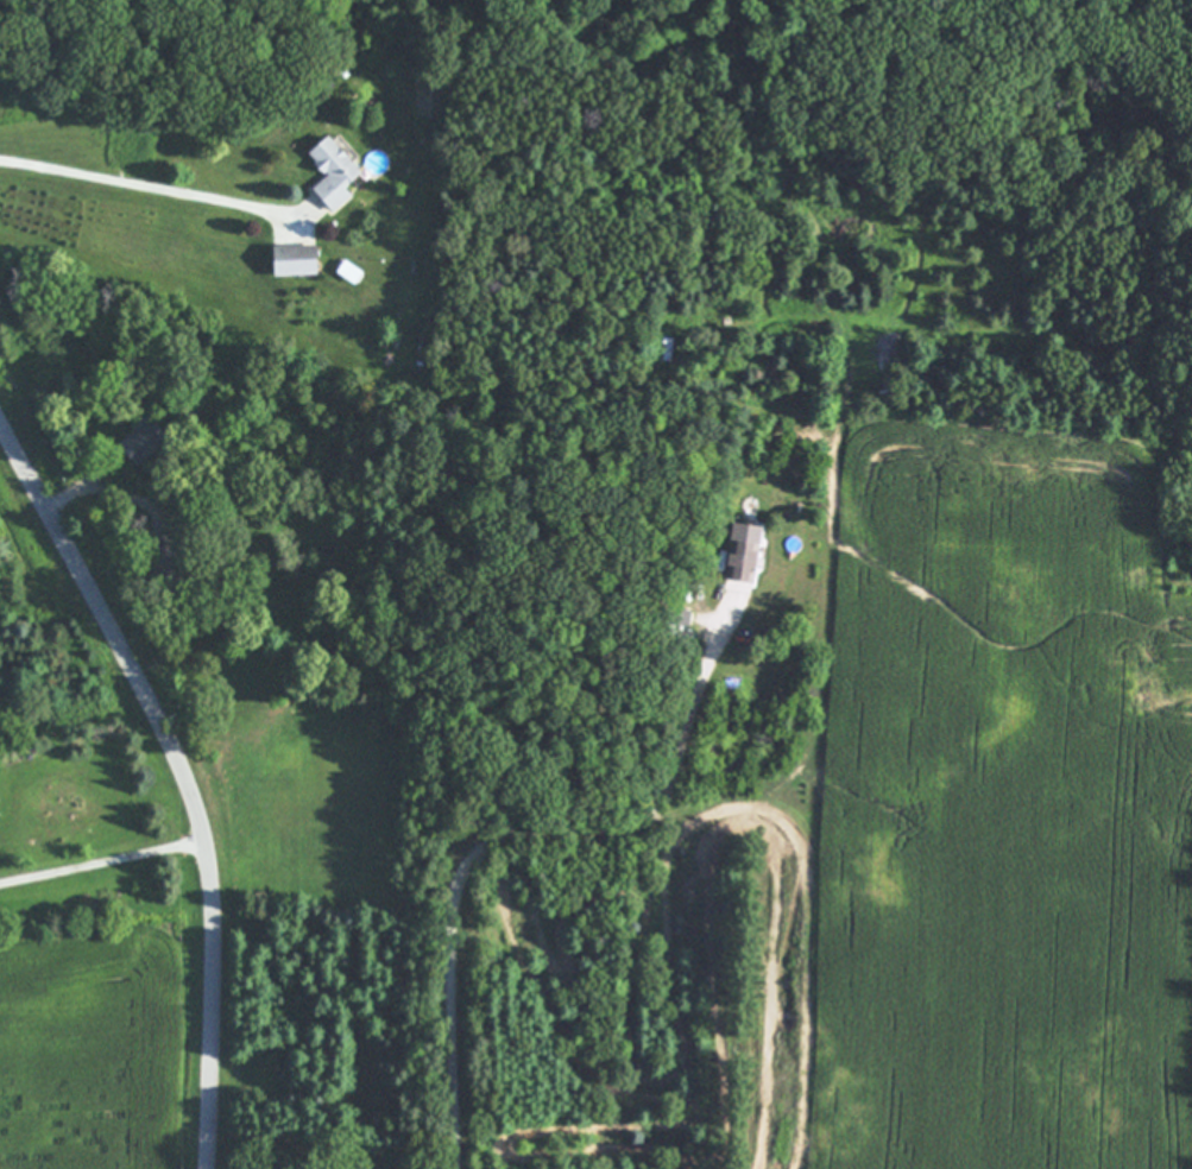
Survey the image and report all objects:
building: (336, 170)
road: (145, 188)
building: (297, 259)
building: (145, 440)
road: (69, 494)
building: (746, 551)
road: (183, 773)
road: (509, 836)
road: (102, 864)

